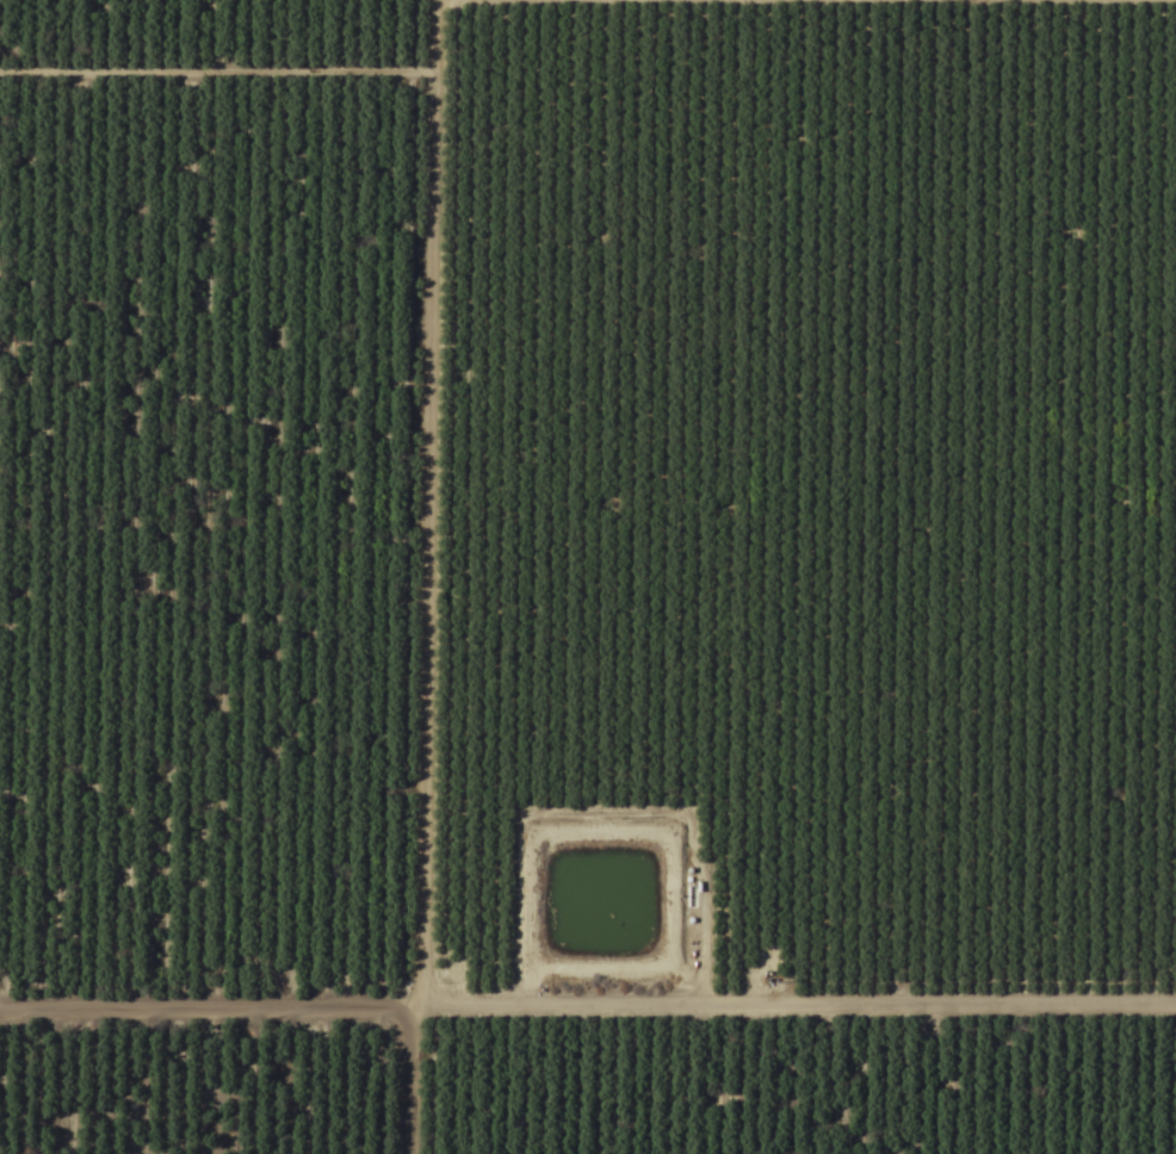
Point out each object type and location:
crop: (588, 577)
road: (588, 966)

